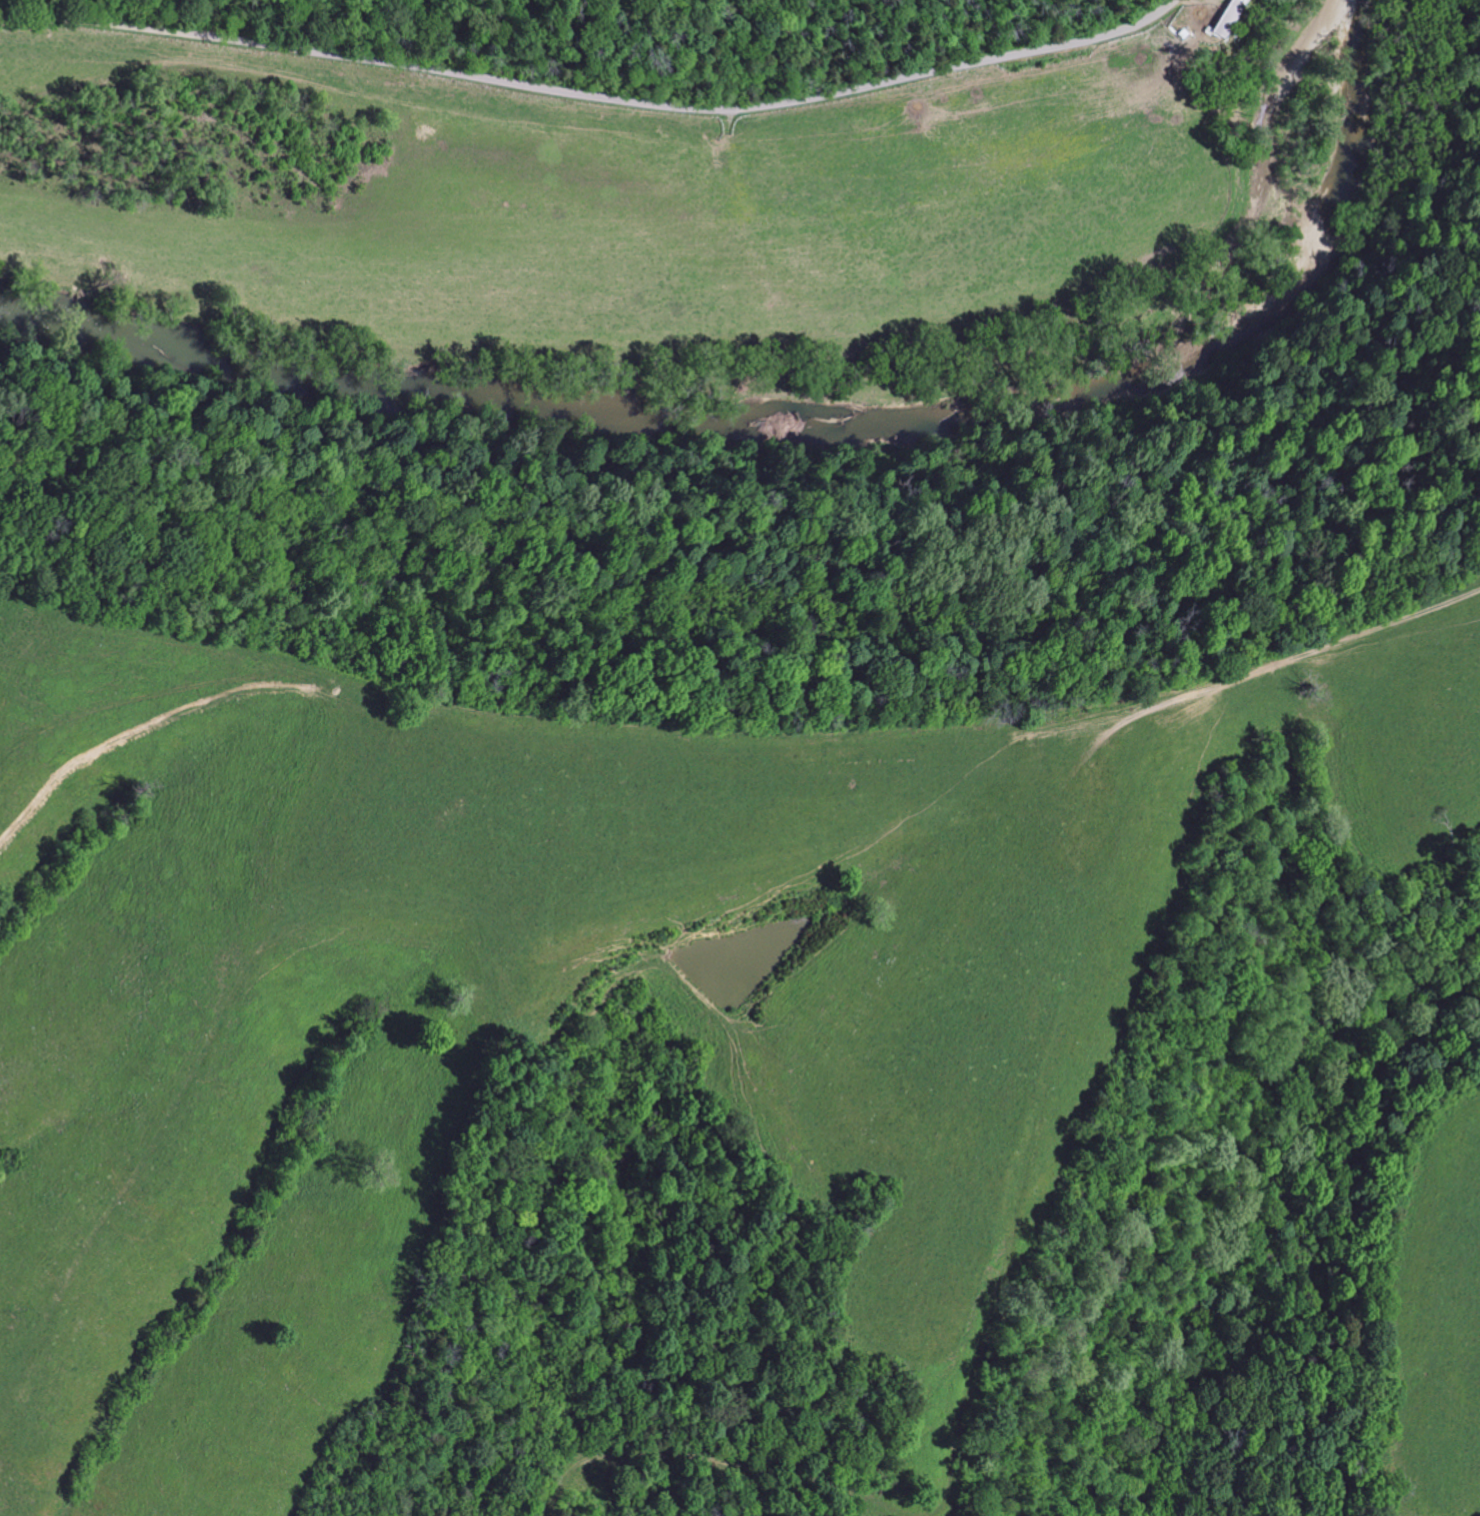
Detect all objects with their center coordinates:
road: (1192, 9)
building: (1226, 18)
road: (588, 91)
river: (90, 325)
road: (1268, 676)
road: (763, 1380)

